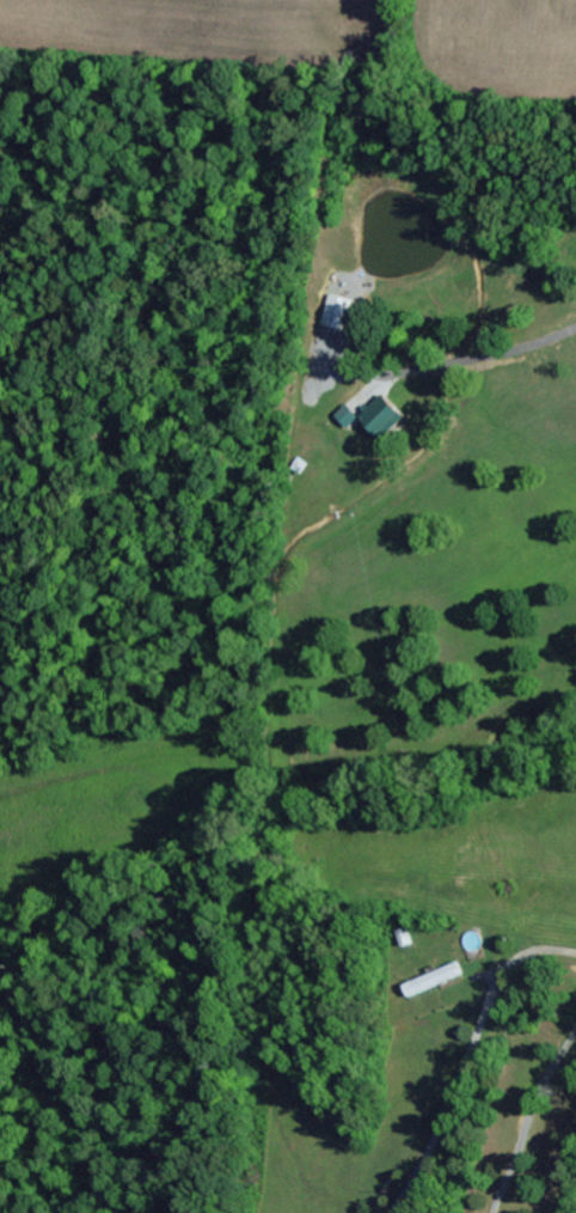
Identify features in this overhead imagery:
building: (337, 315)
building: (348, 416)
road: (557, 958)
building: (433, 981)
building: (522, 1053)

